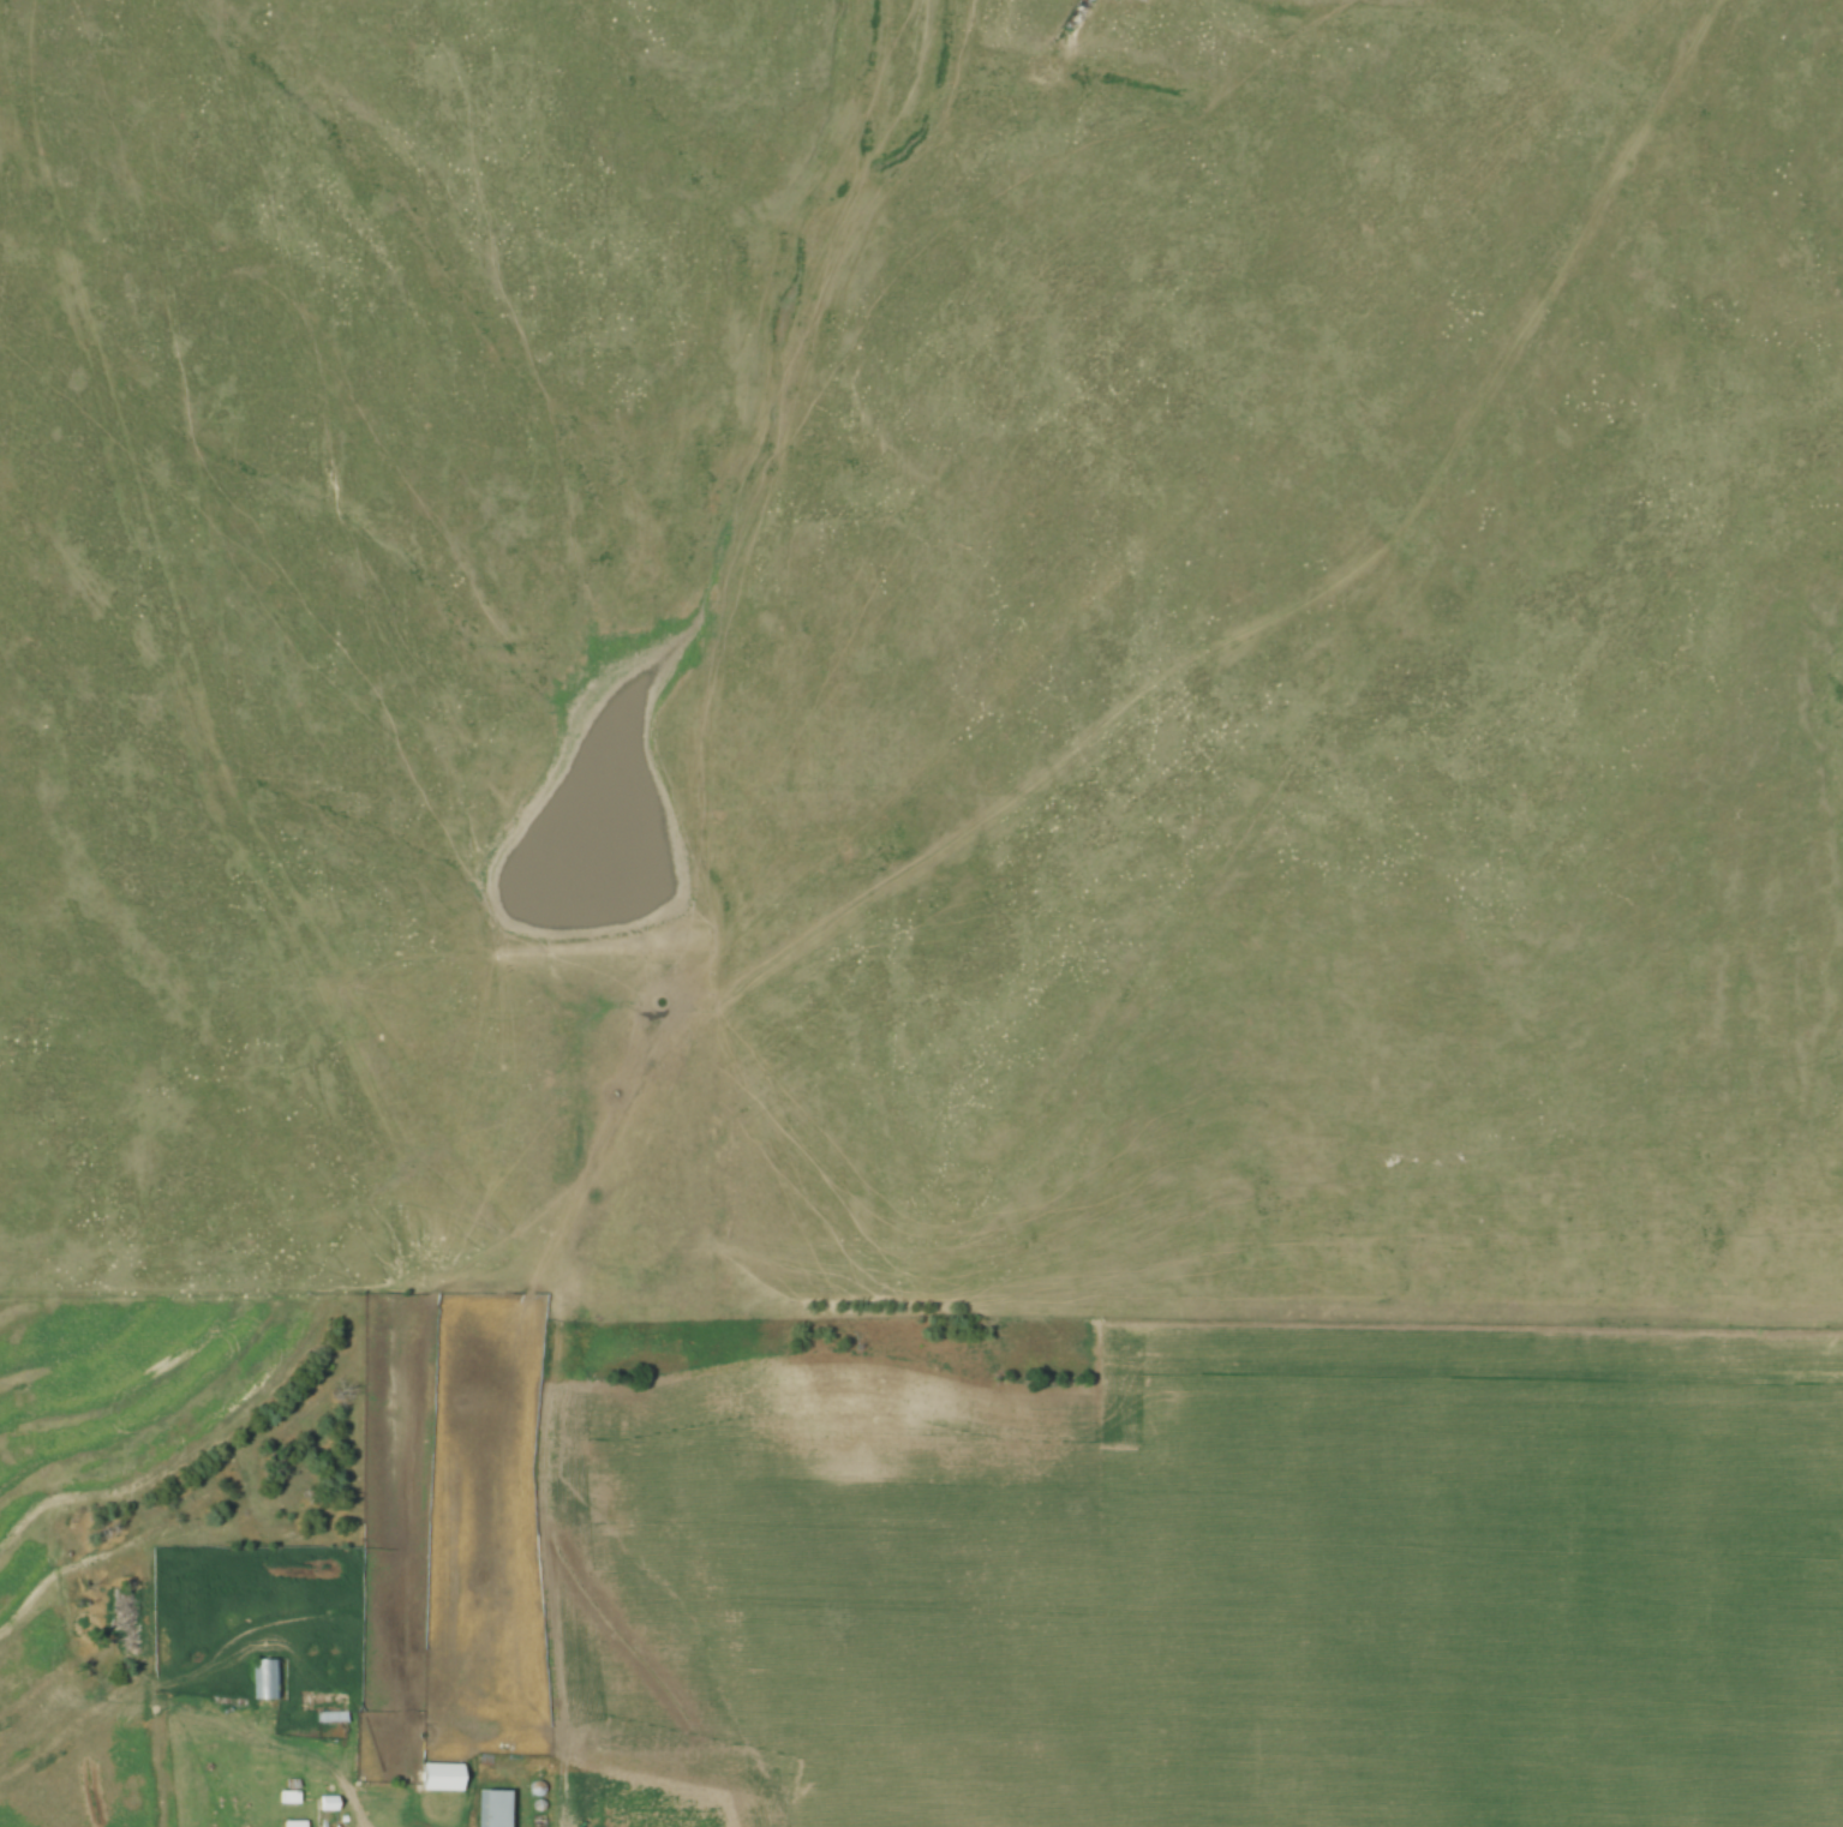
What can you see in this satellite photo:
crop: (1219, 1583)
building: (265, 1679)
building: (444, 1778)
building: (496, 1809)
building: (294, 1823)

